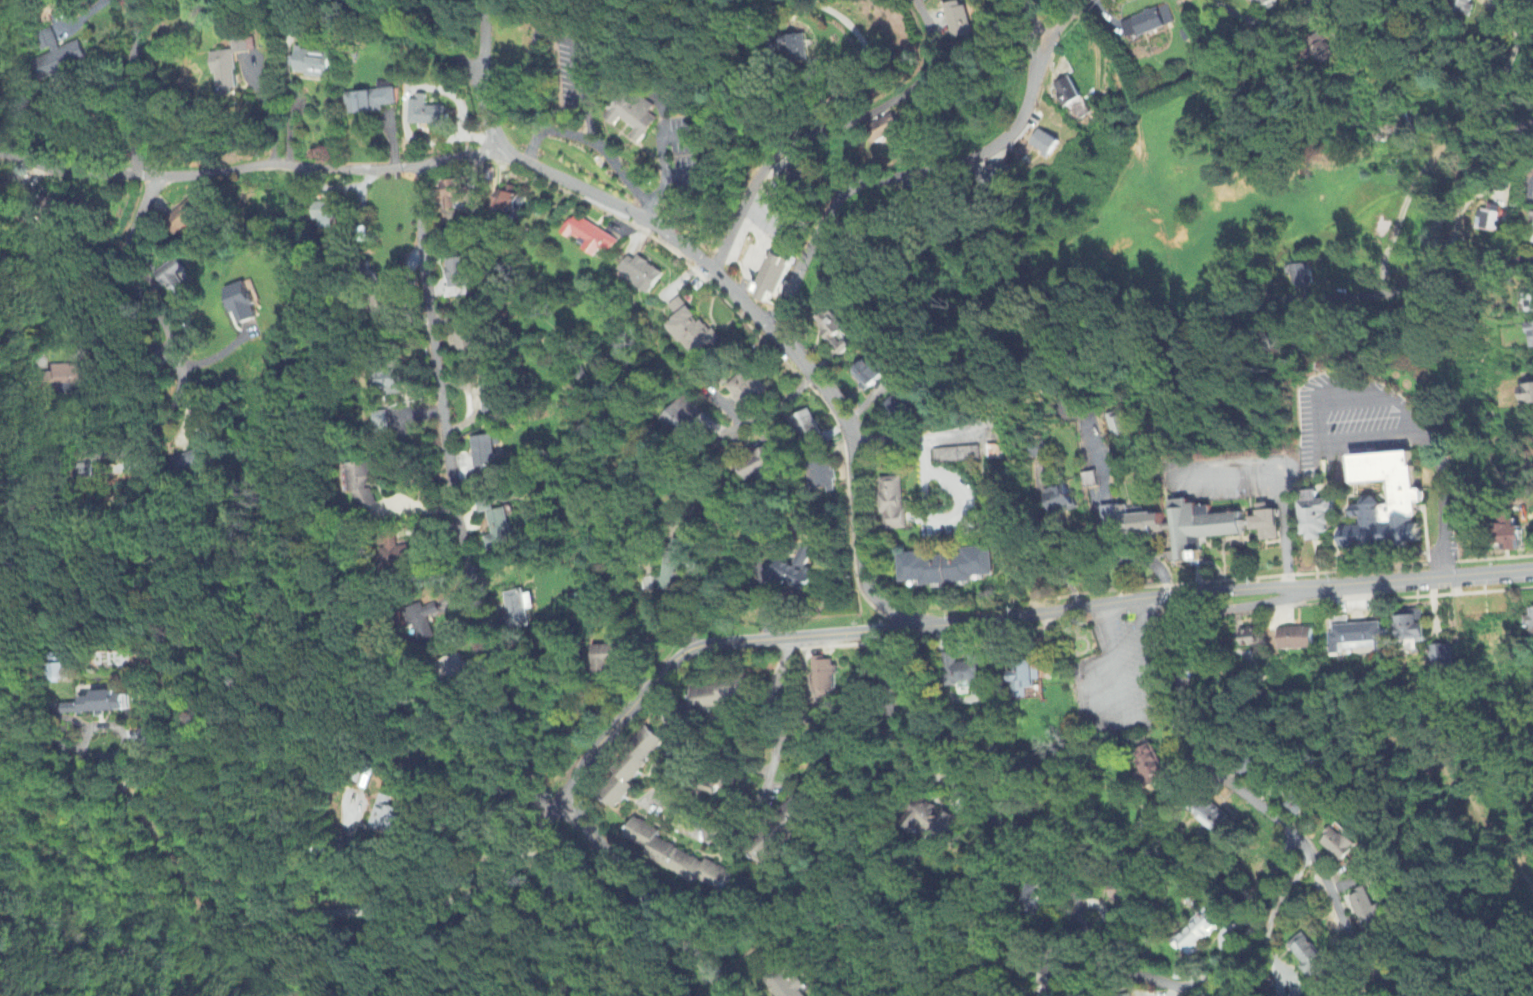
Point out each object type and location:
road: (1227, 9)
road: (1060, 17)
road: (1031, 21)
road: (477, 28)
road: (451, 48)
road: (772, 62)
road: (868, 75)
road: (129, 93)
road: (264, 113)
road: (830, 128)
road: (1442, 141)
road: (596, 145)
road: (661, 159)
road: (206, 174)
road: (901, 175)
road: (708, 177)
road: (606, 198)
road: (1445, 201)
road: (127, 276)
road: (93, 321)
building: (67, 375)
road: (1316, 415)
road: (120, 452)
road: (853, 466)
road: (927, 493)
road: (1282, 494)
road: (453, 499)
road: (1446, 504)
road: (1051, 542)
road: (1117, 554)
road: (1155, 567)
road: (692, 648)
road: (775, 671)
road: (1137, 715)
road: (39, 734)
road: (123, 735)
road: (1217, 770)
road: (660, 798)
park: (1455, 839)
road: (430, 854)
road: (640, 898)
road: (1073, 907)
road: (1231, 983)

